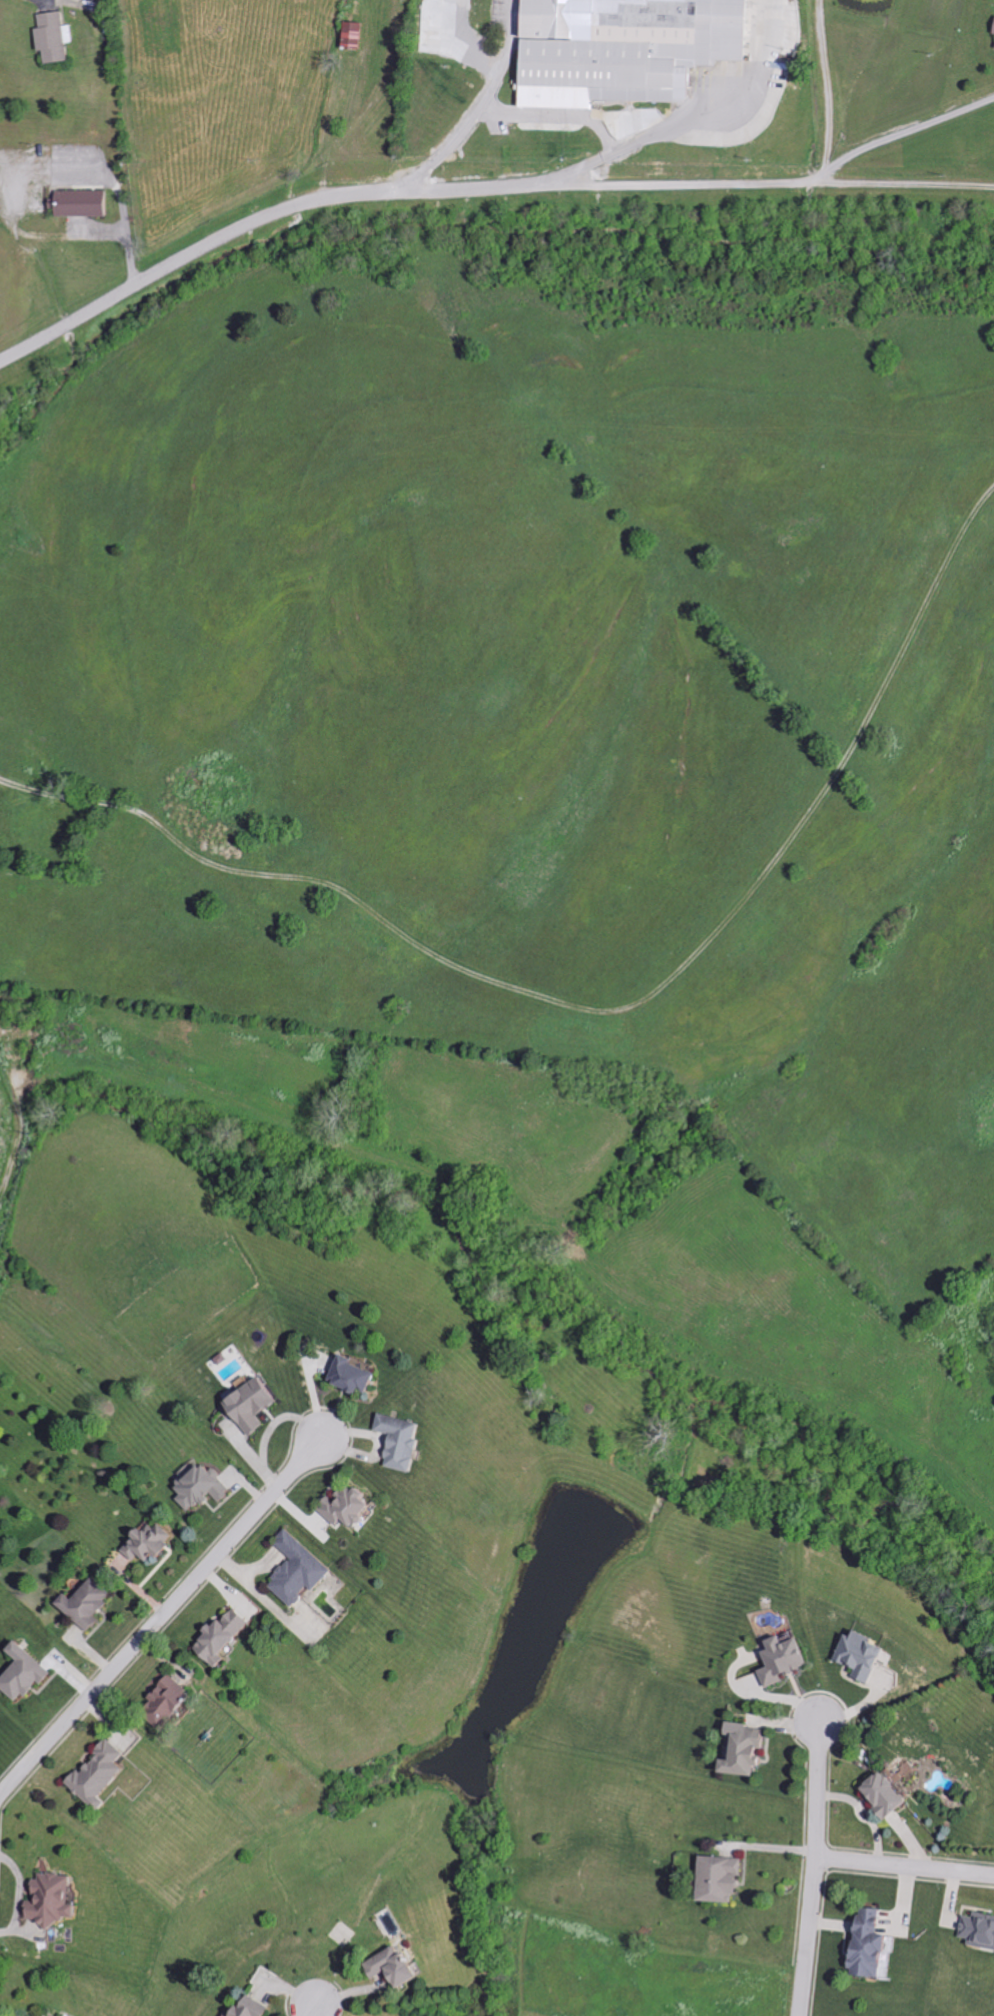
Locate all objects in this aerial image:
building: (992, 27)
building: (357, 35)
building: (56, 37)
building: (624, 44)
building: (993, 49)
road: (755, 51)
road: (823, 86)
road: (483, 105)
road: (555, 116)
road: (785, 180)
road: (901, 183)
road: (354, 193)
road: (119, 197)
building: (86, 203)
building: (360, 1376)
building: (258, 1403)
building: (407, 1441)
building: (205, 1487)
building: (352, 1506)
building: (153, 1542)
building: (303, 1569)
building: (91, 1603)
road: (161, 1618)
building: (228, 1637)
building: (868, 1654)
building: (788, 1660)
building: (29, 1673)
building: (176, 1701)
building: (753, 1749)
building: (104, 1774)
building: (894, 1794)
road: (904, 1866)
road: (812, 1869)
building: (724, 1878)
building: (61, 1900)
building: (981, 1928)
building: (877, 1944)
building: (403, 1967)
building: (257, 2008)
road: (318, 2009)
building: (25, 2015)

